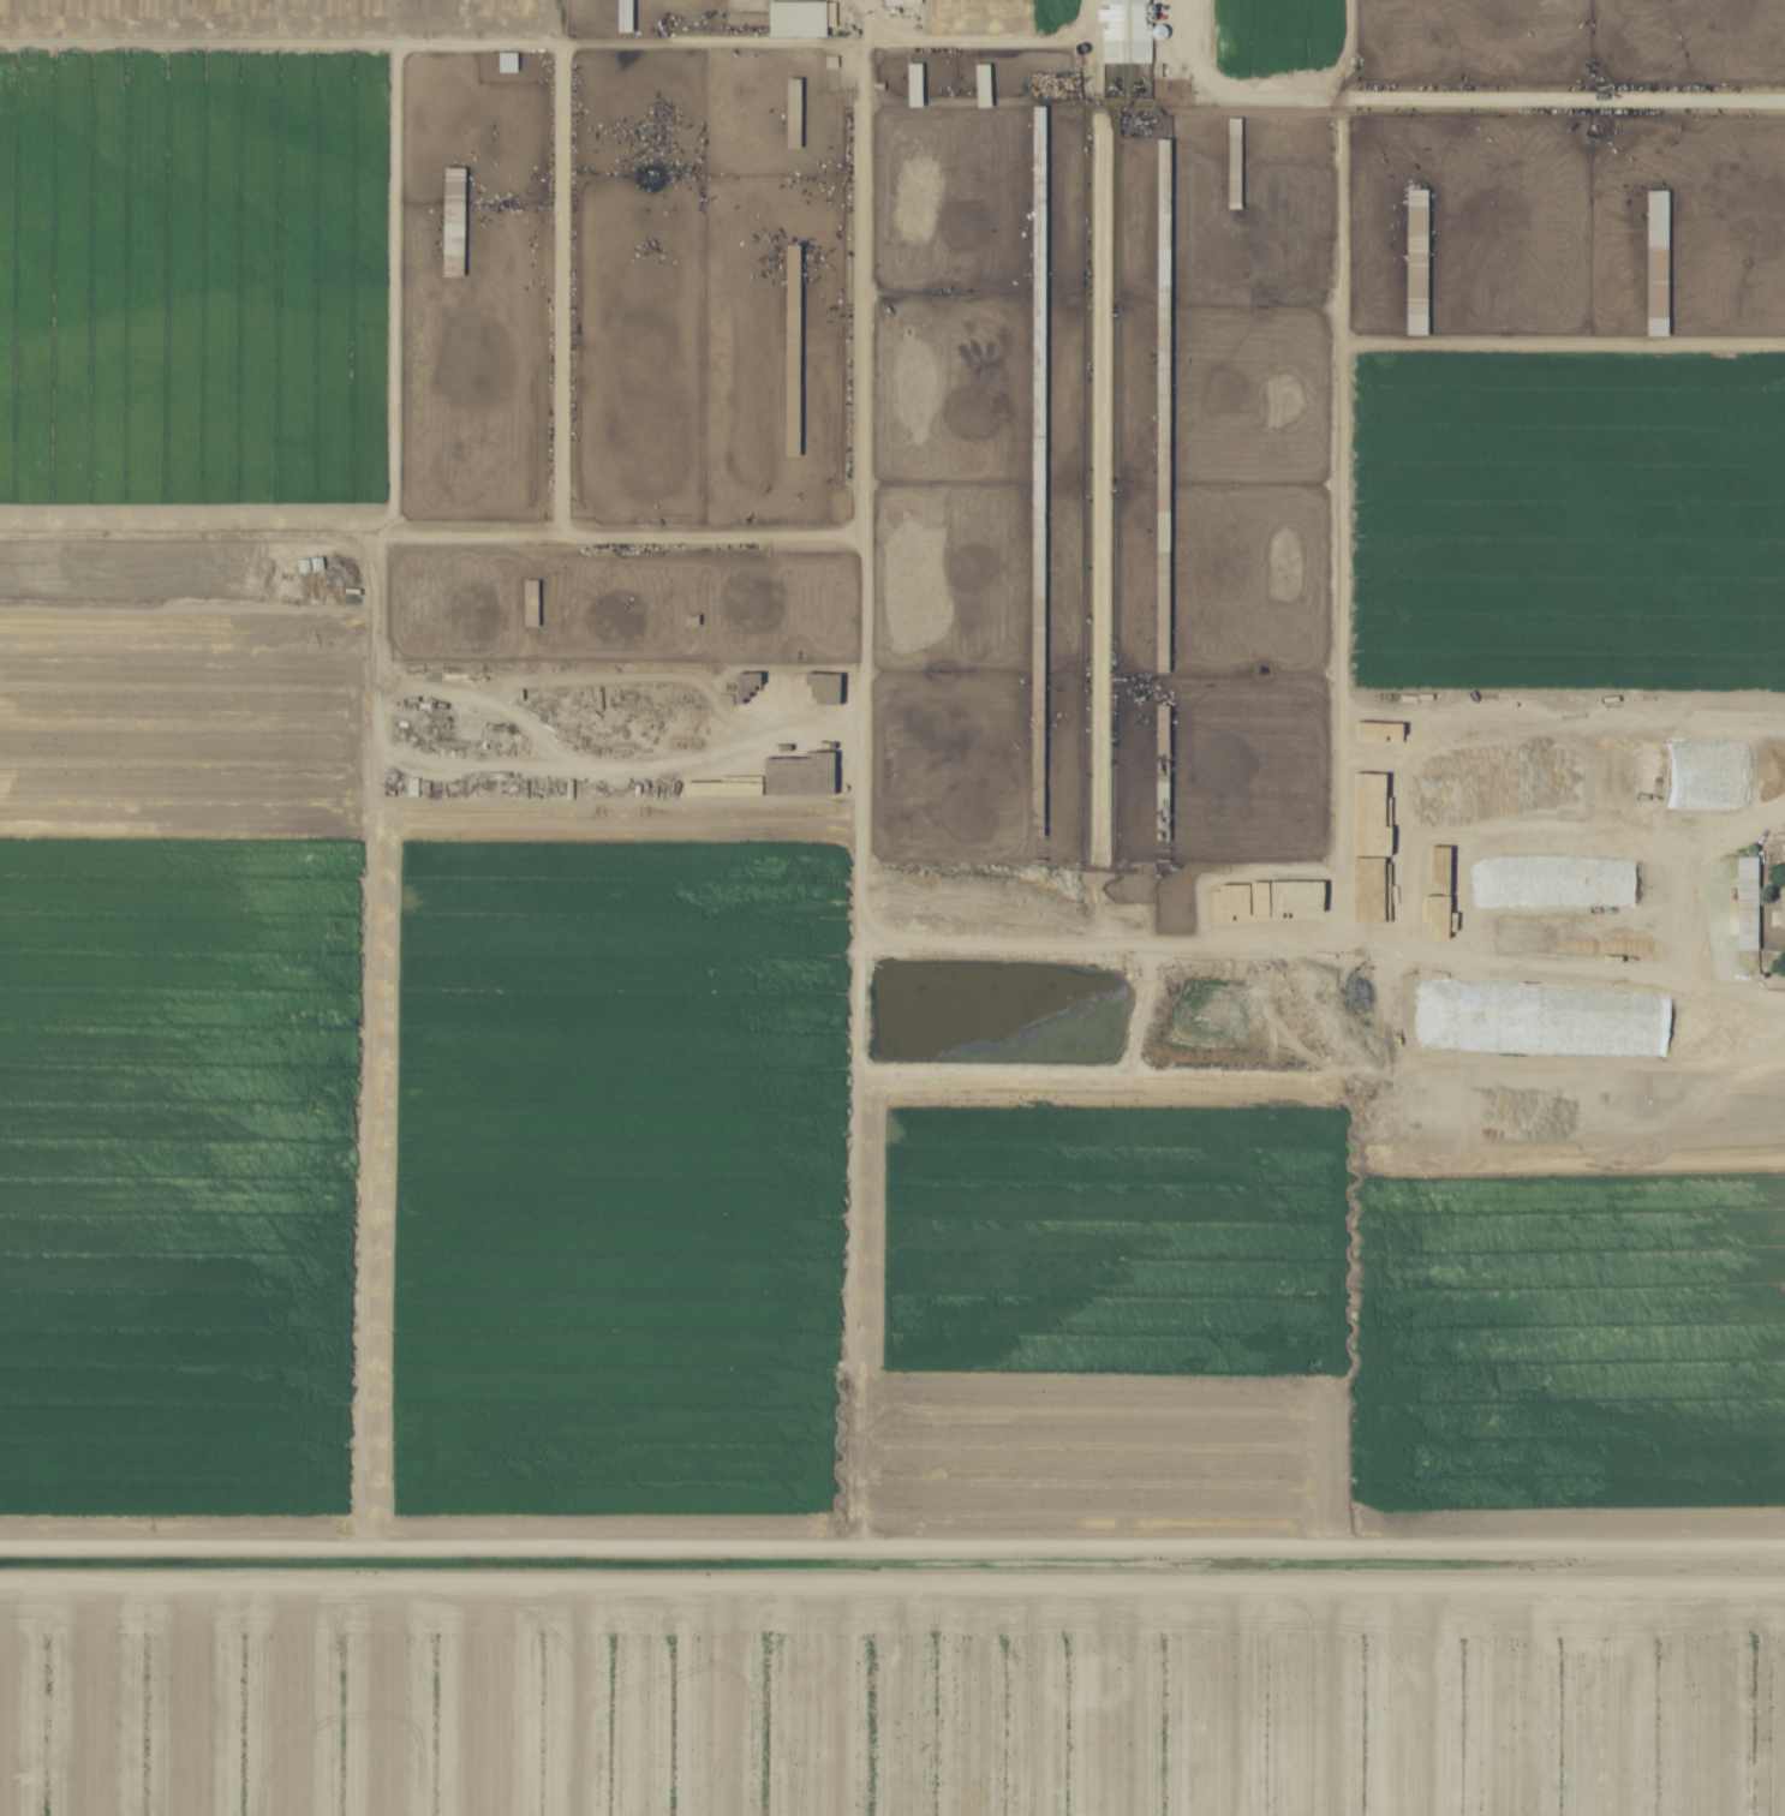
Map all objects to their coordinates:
building: (799, 18)
building: (1123, 20)
road: (981, 38)
road: (435, 42)
building: (506, 62)
building: (1655, 252)
road: (692, 539)
road: (621, 766)
building: (1744, 902)
road: (1670, 907)
crop: (722, 1201)
road: (893, 1546)

